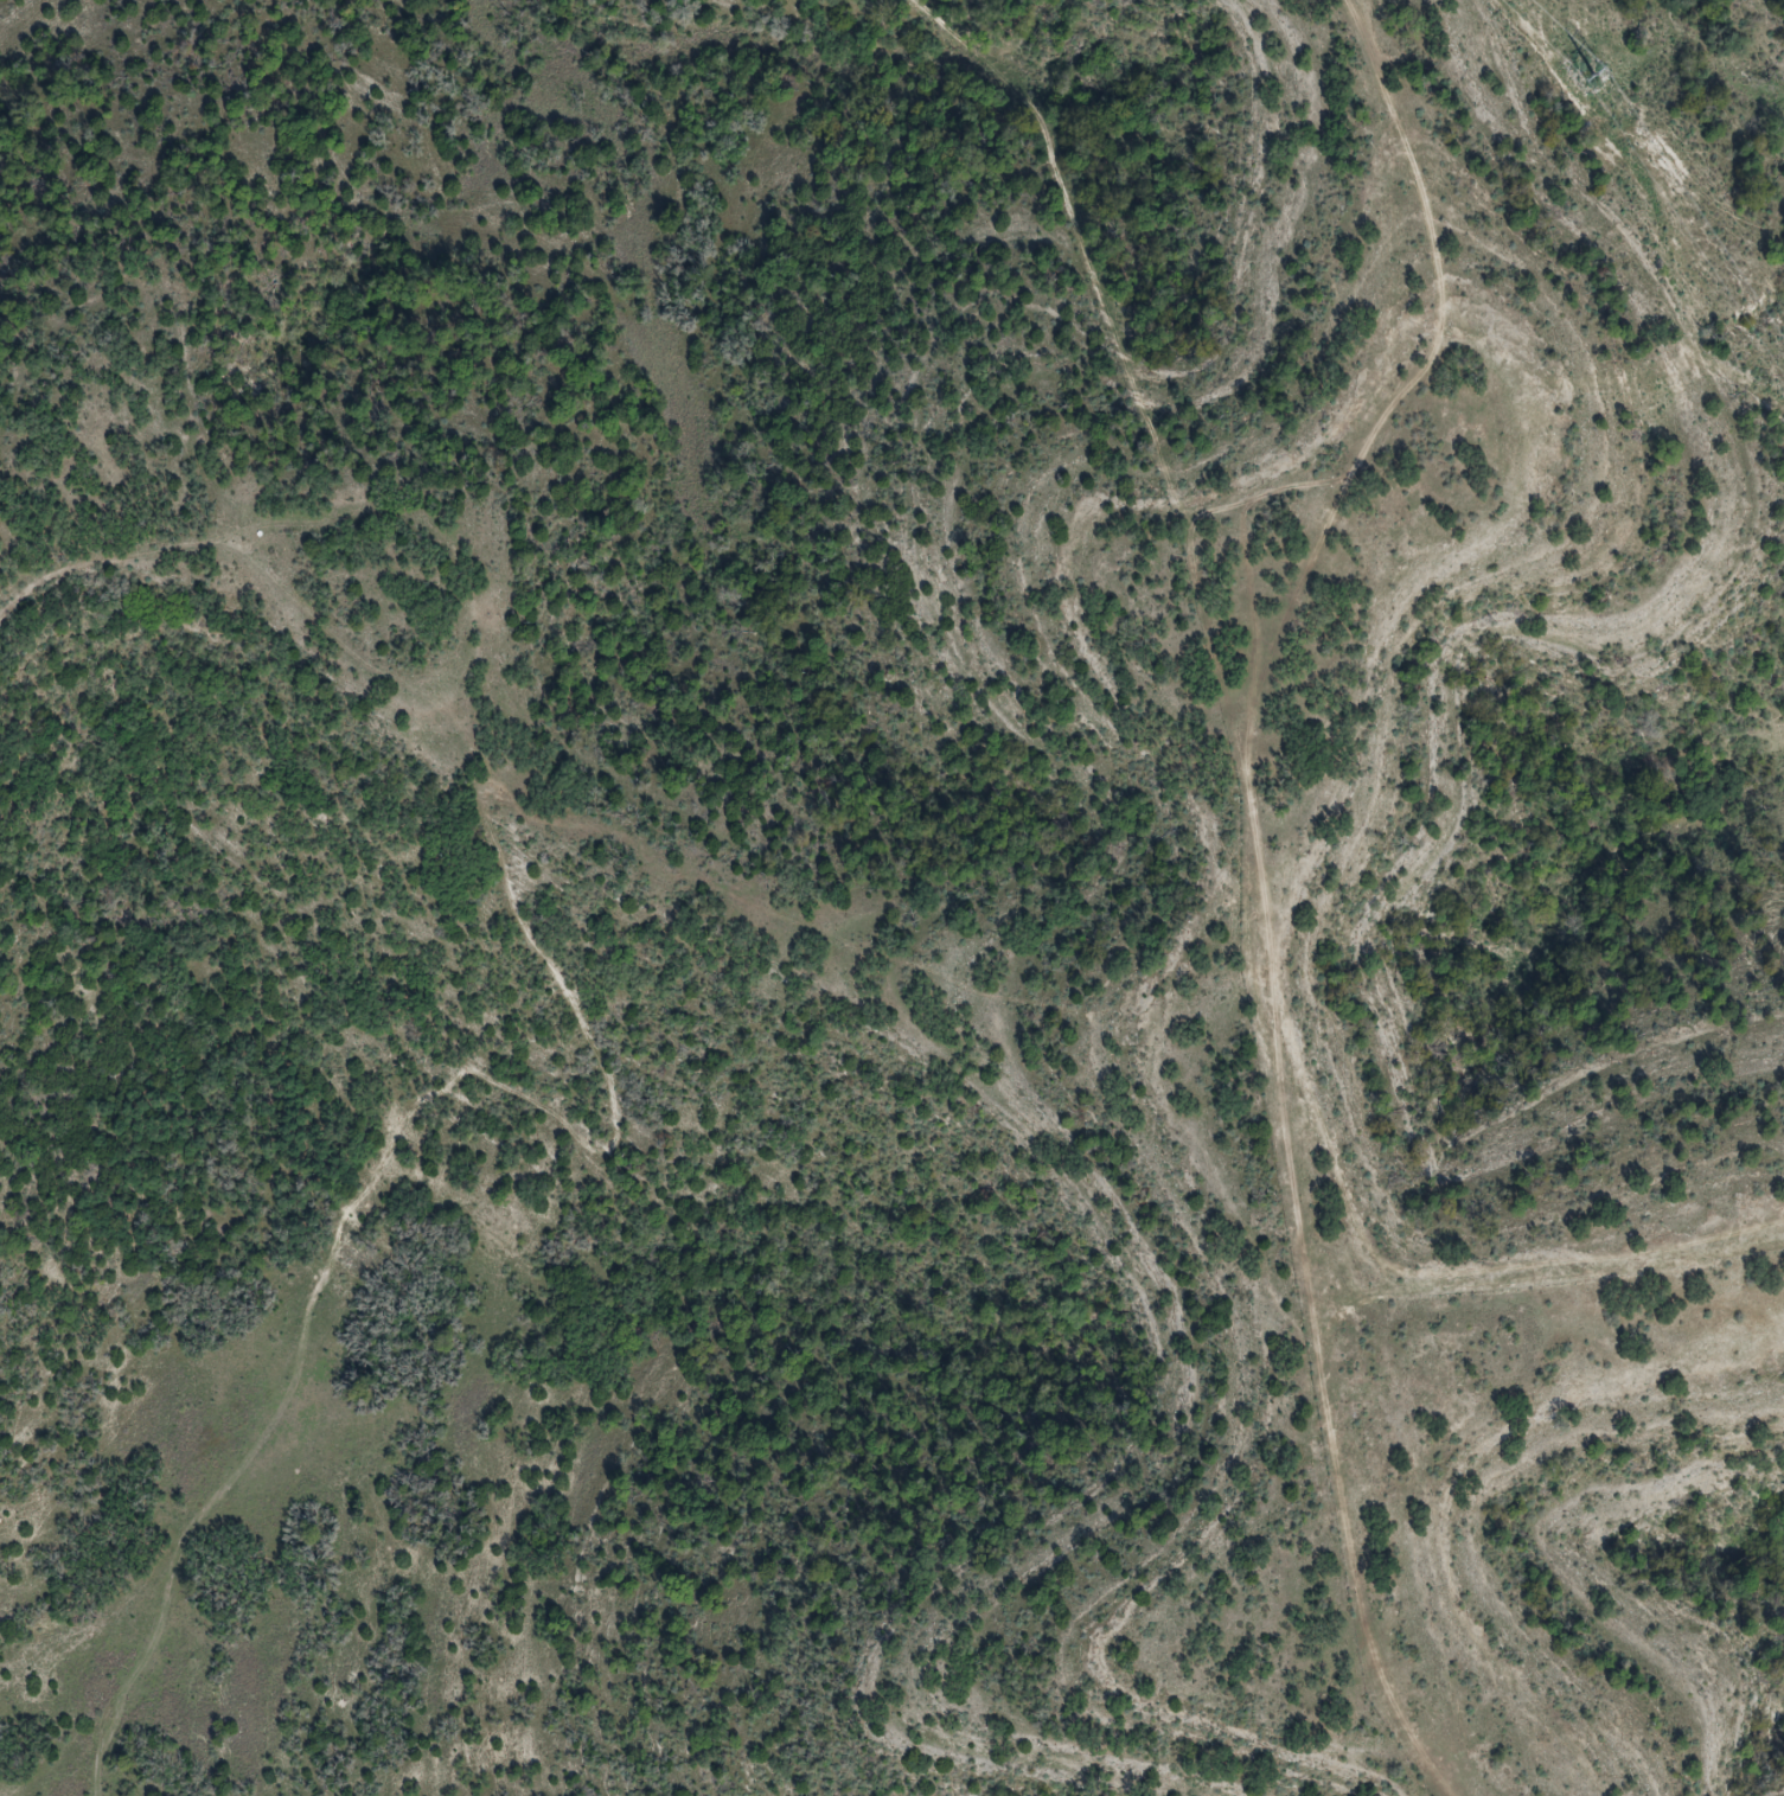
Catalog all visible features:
power tower: (1596, 76)

